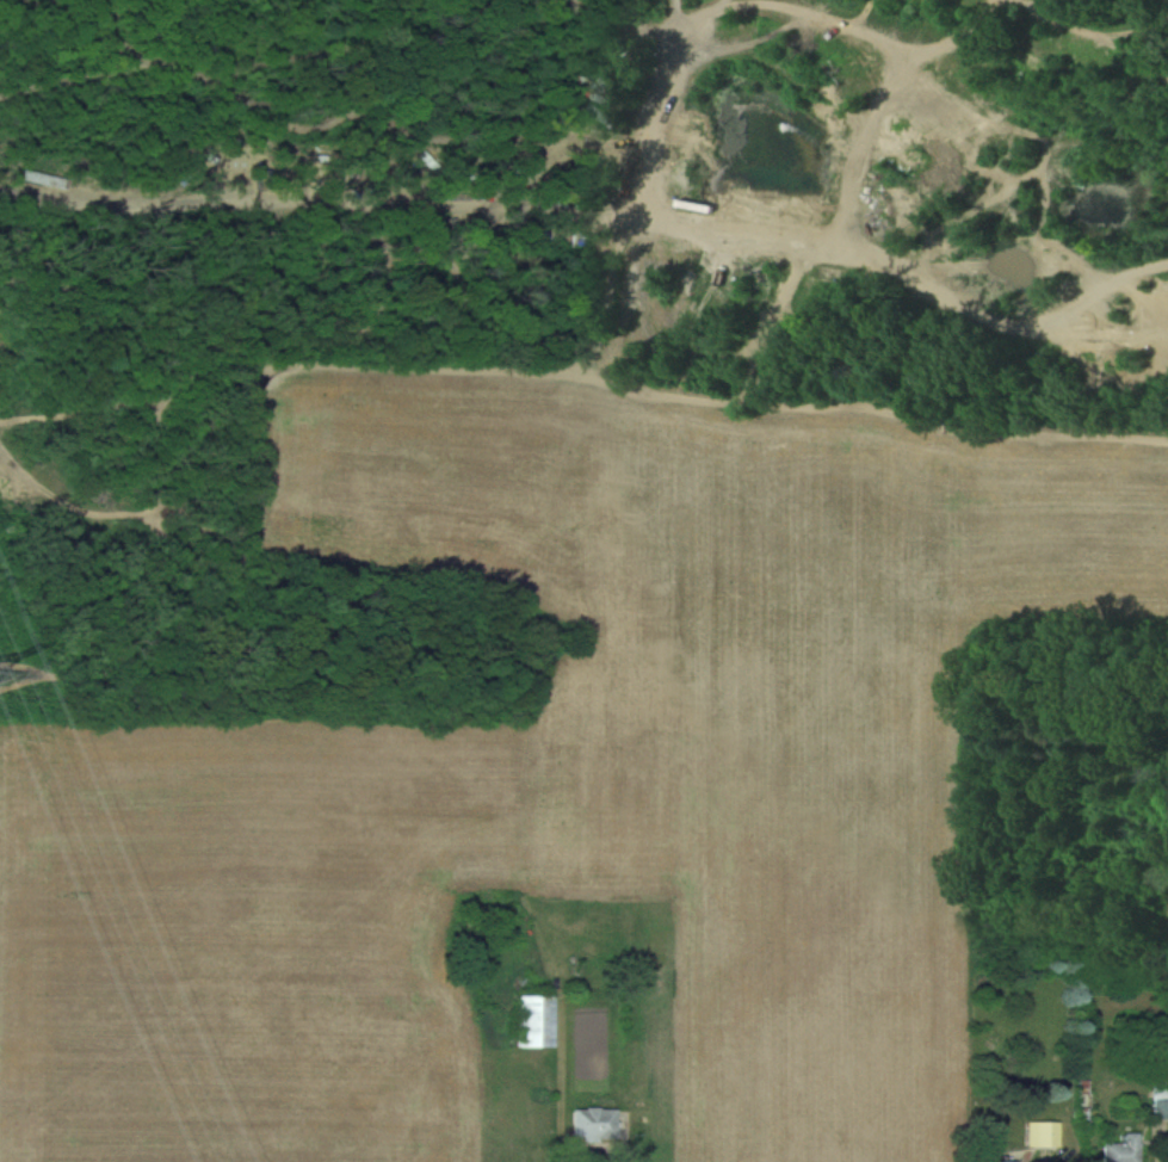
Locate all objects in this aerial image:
building: (1151, 977)
building: (533, 1019)
building: (1161, 1101)
building: (592, 1123)
road: (600, 1148)
building: (1121, 1149)
building: (1003, 1161)

